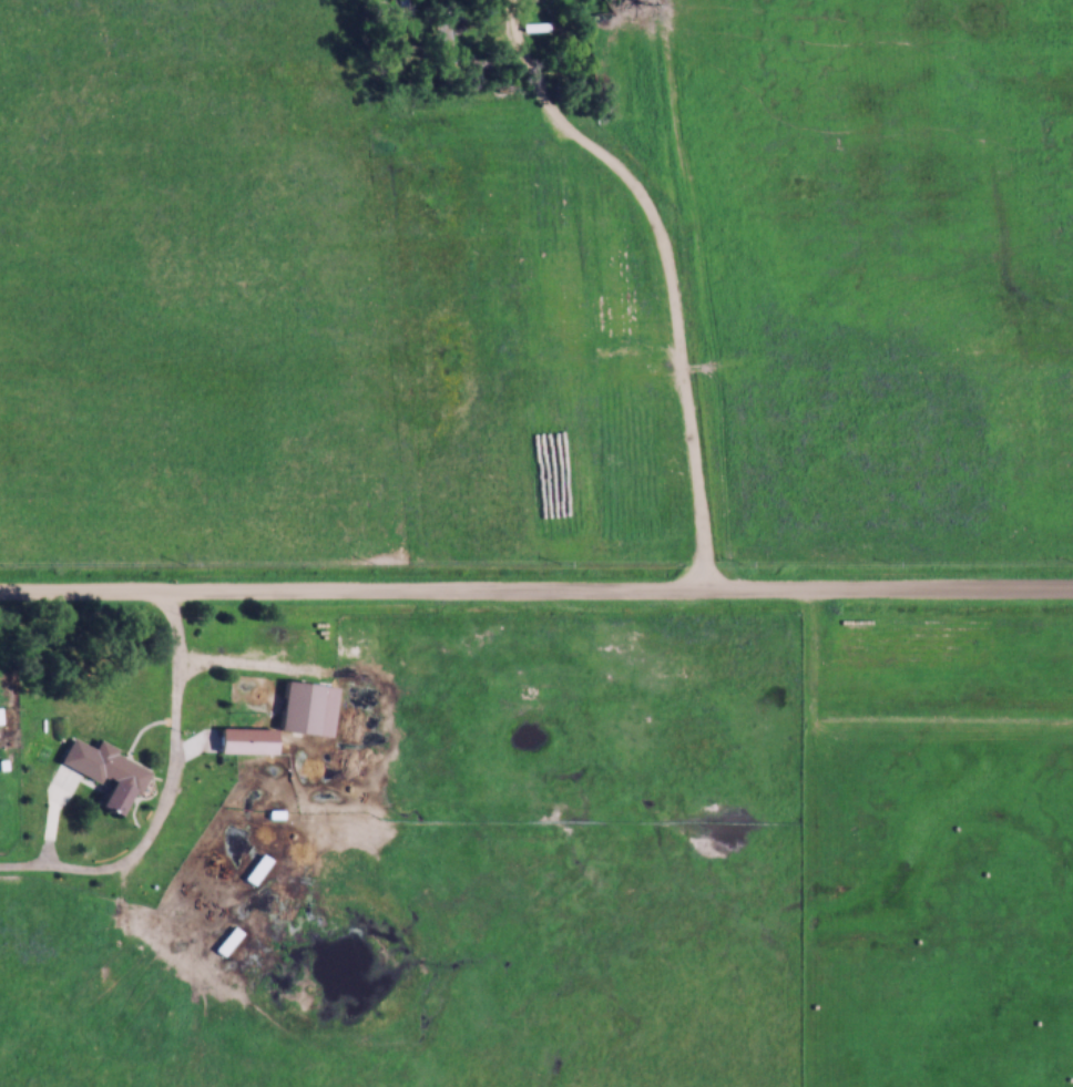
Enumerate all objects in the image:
building: (406, 3)
building: (534, 29)
building: (439, 42)
road: (665, 277)
road: (536, 602)
building: (297, 710)
building: (260, 771)
building: (109, 779)
road: (170, 807)
building: (264, 884)
building: (225, 943)

